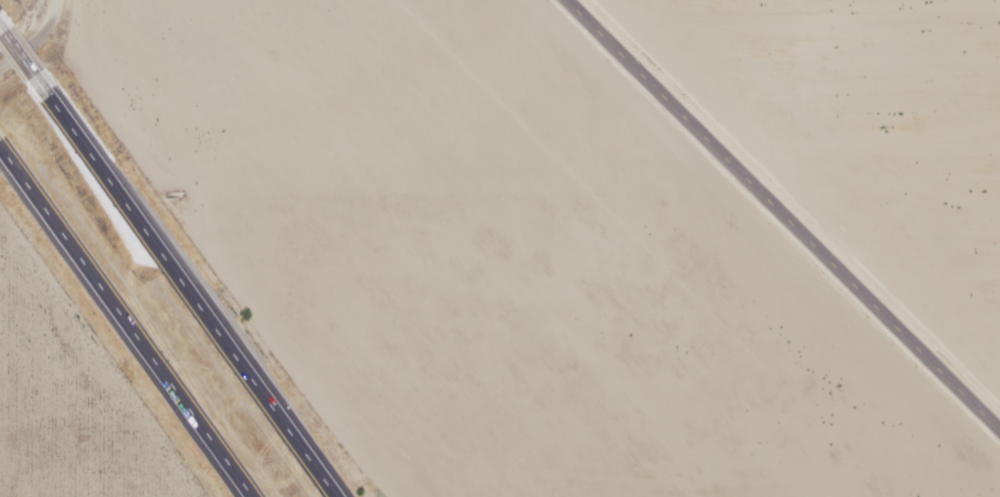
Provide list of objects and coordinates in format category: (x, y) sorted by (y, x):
road: (22, 70)
road: (785, 213)
road: (188, 298)
road: (123, 325)

